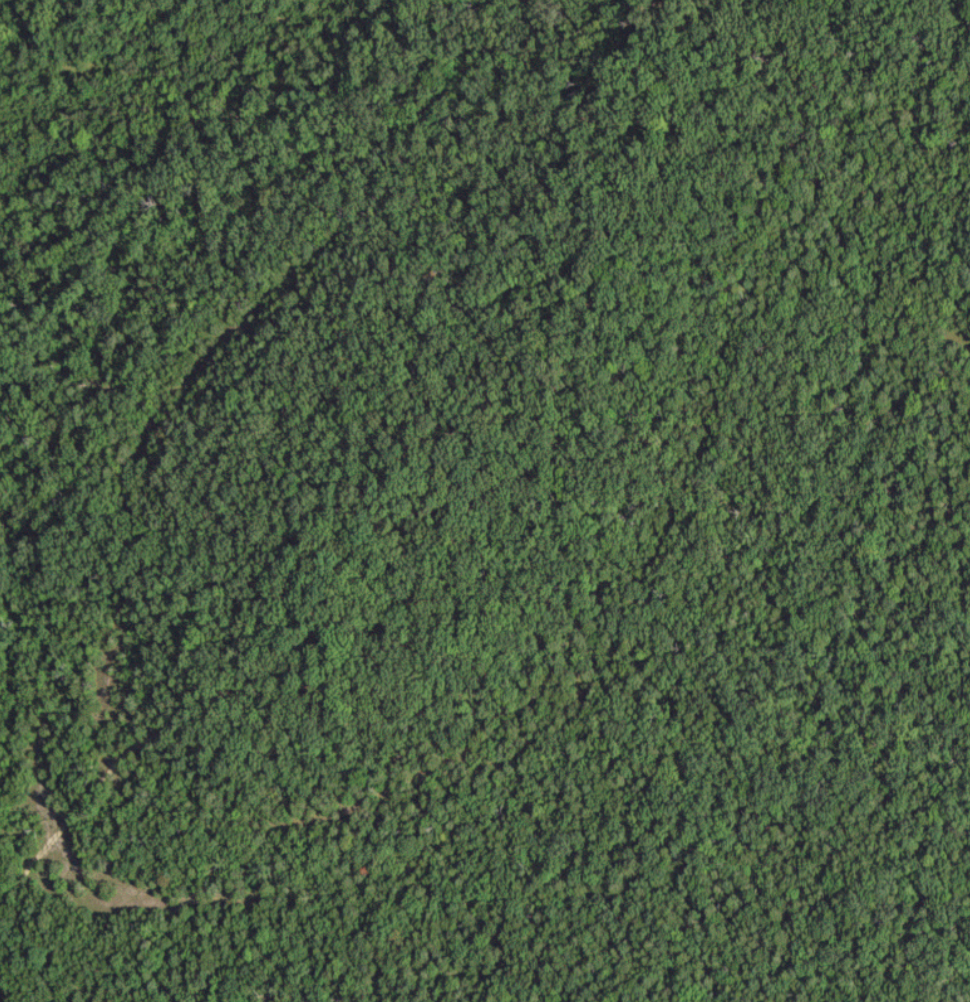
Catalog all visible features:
road: (396, 465)

